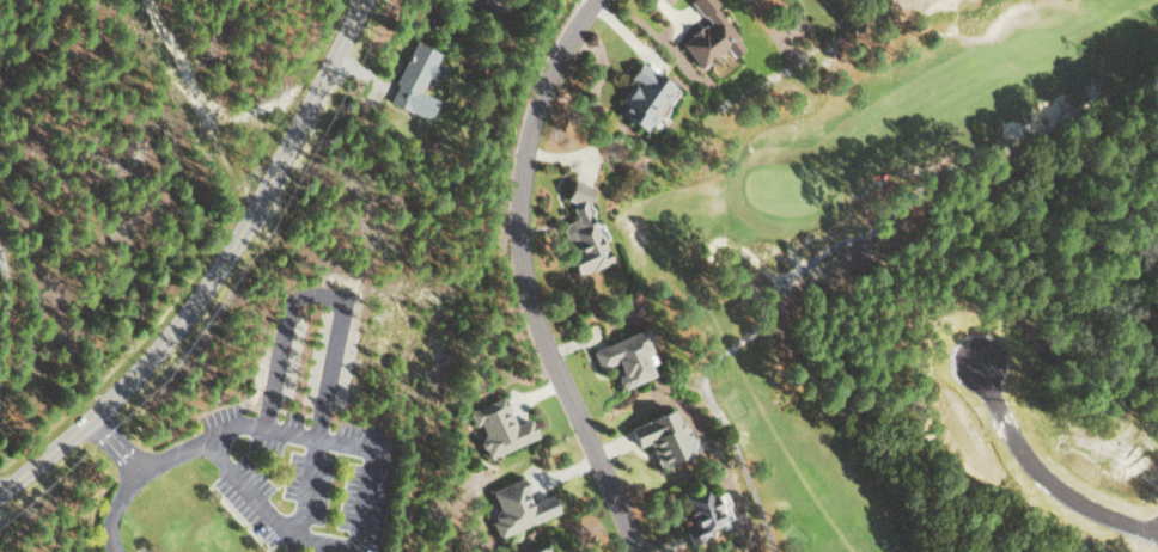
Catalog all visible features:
building: (709, 35)
building: (414, 80)
building: (644, 96)
building: (581, 233)
road: (828, 249)
road: (217, 269)
road: (526, 277)
park: (919, 281)
road: (7, 312)
road: (329, 325)
building: (624, 356)
building: (498, 427)
road: (299, 434)
building: (659, 436)
road: (1042, 472)
road: (133, 478)
building: (516, 507)
road: (260, 511)
building: (699, 515)
road: (286, 542)
building: (538, 548)

